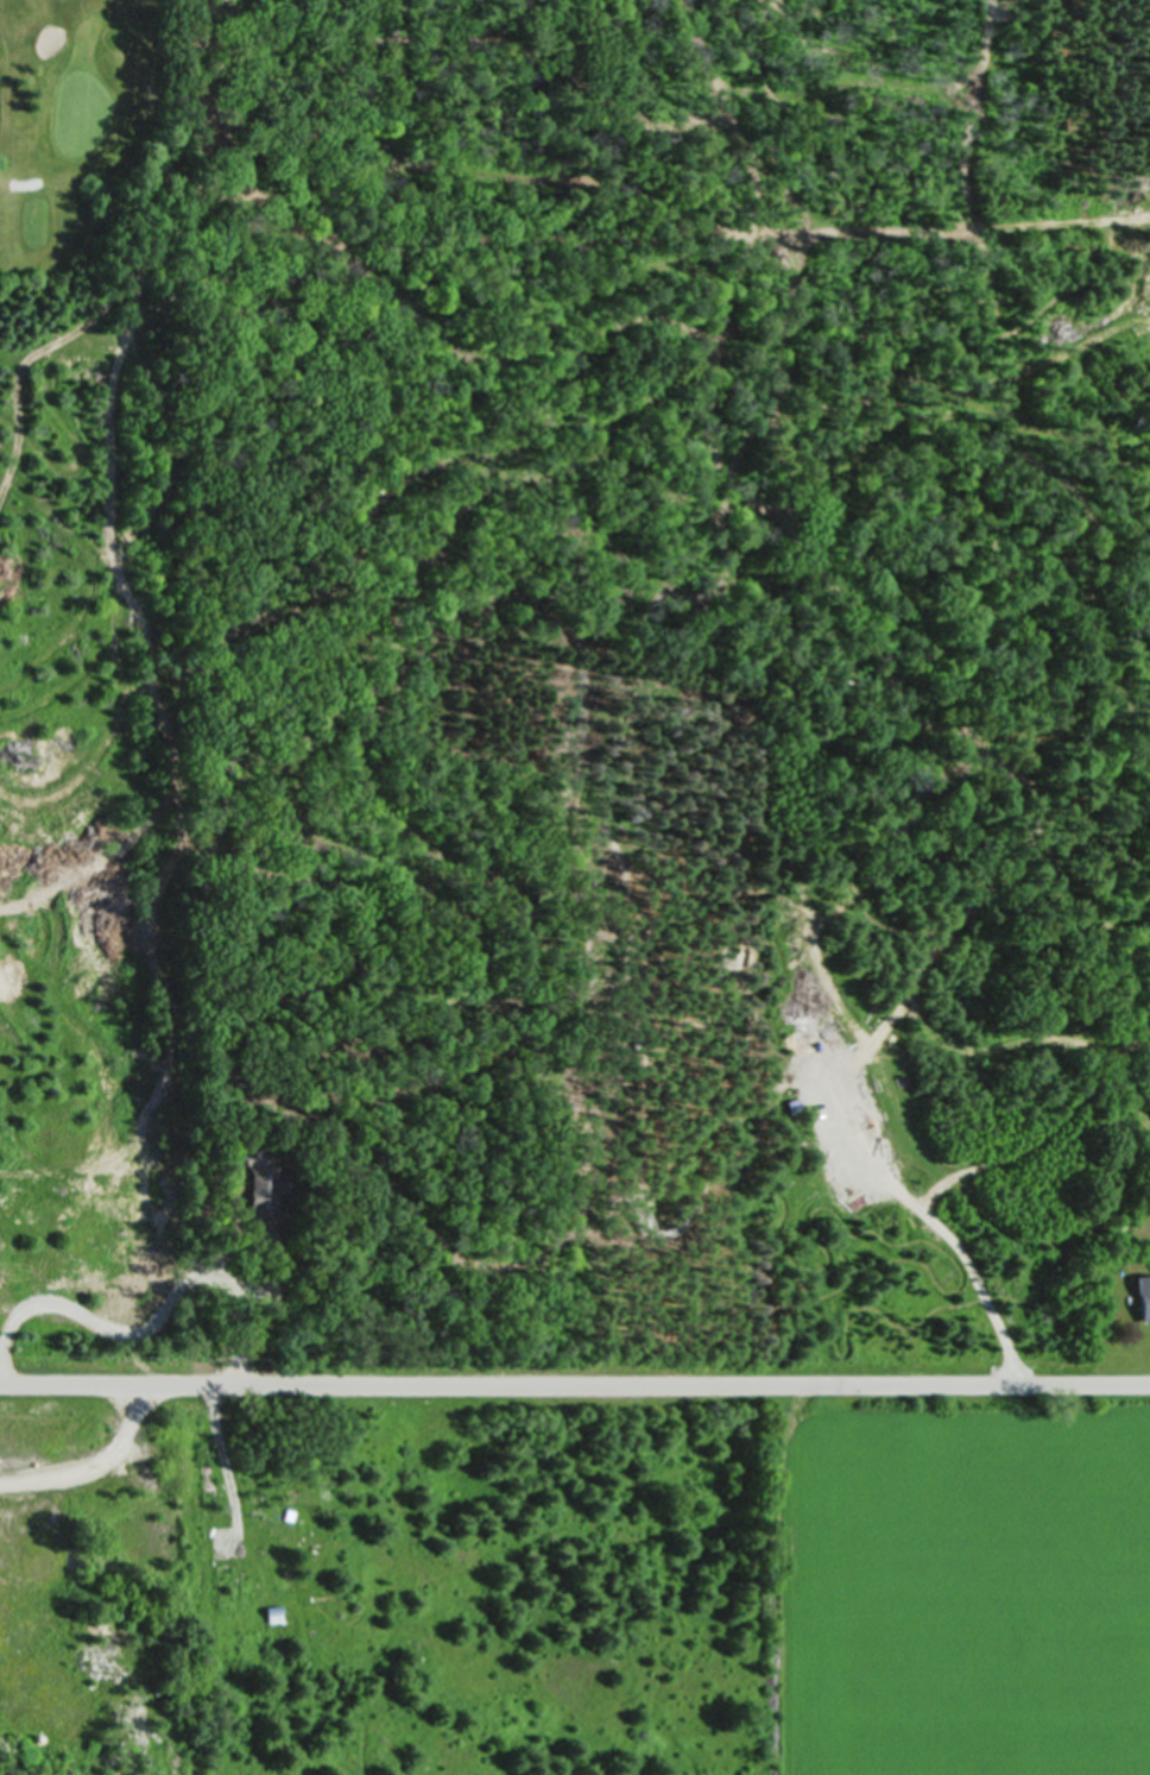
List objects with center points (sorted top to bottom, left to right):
park: (70, 118)
building: (260, 1200)
building: (1143, 1297)
road: (574, 1385)
quarry: (97, 1584)

